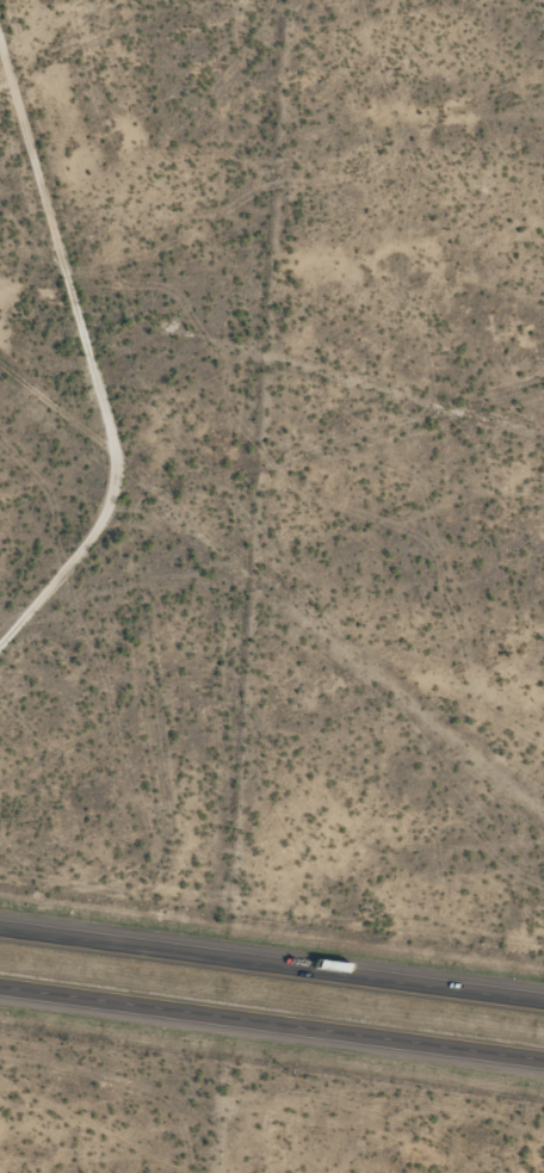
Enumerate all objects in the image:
road: (272, 967)
road: (272, 1025)

